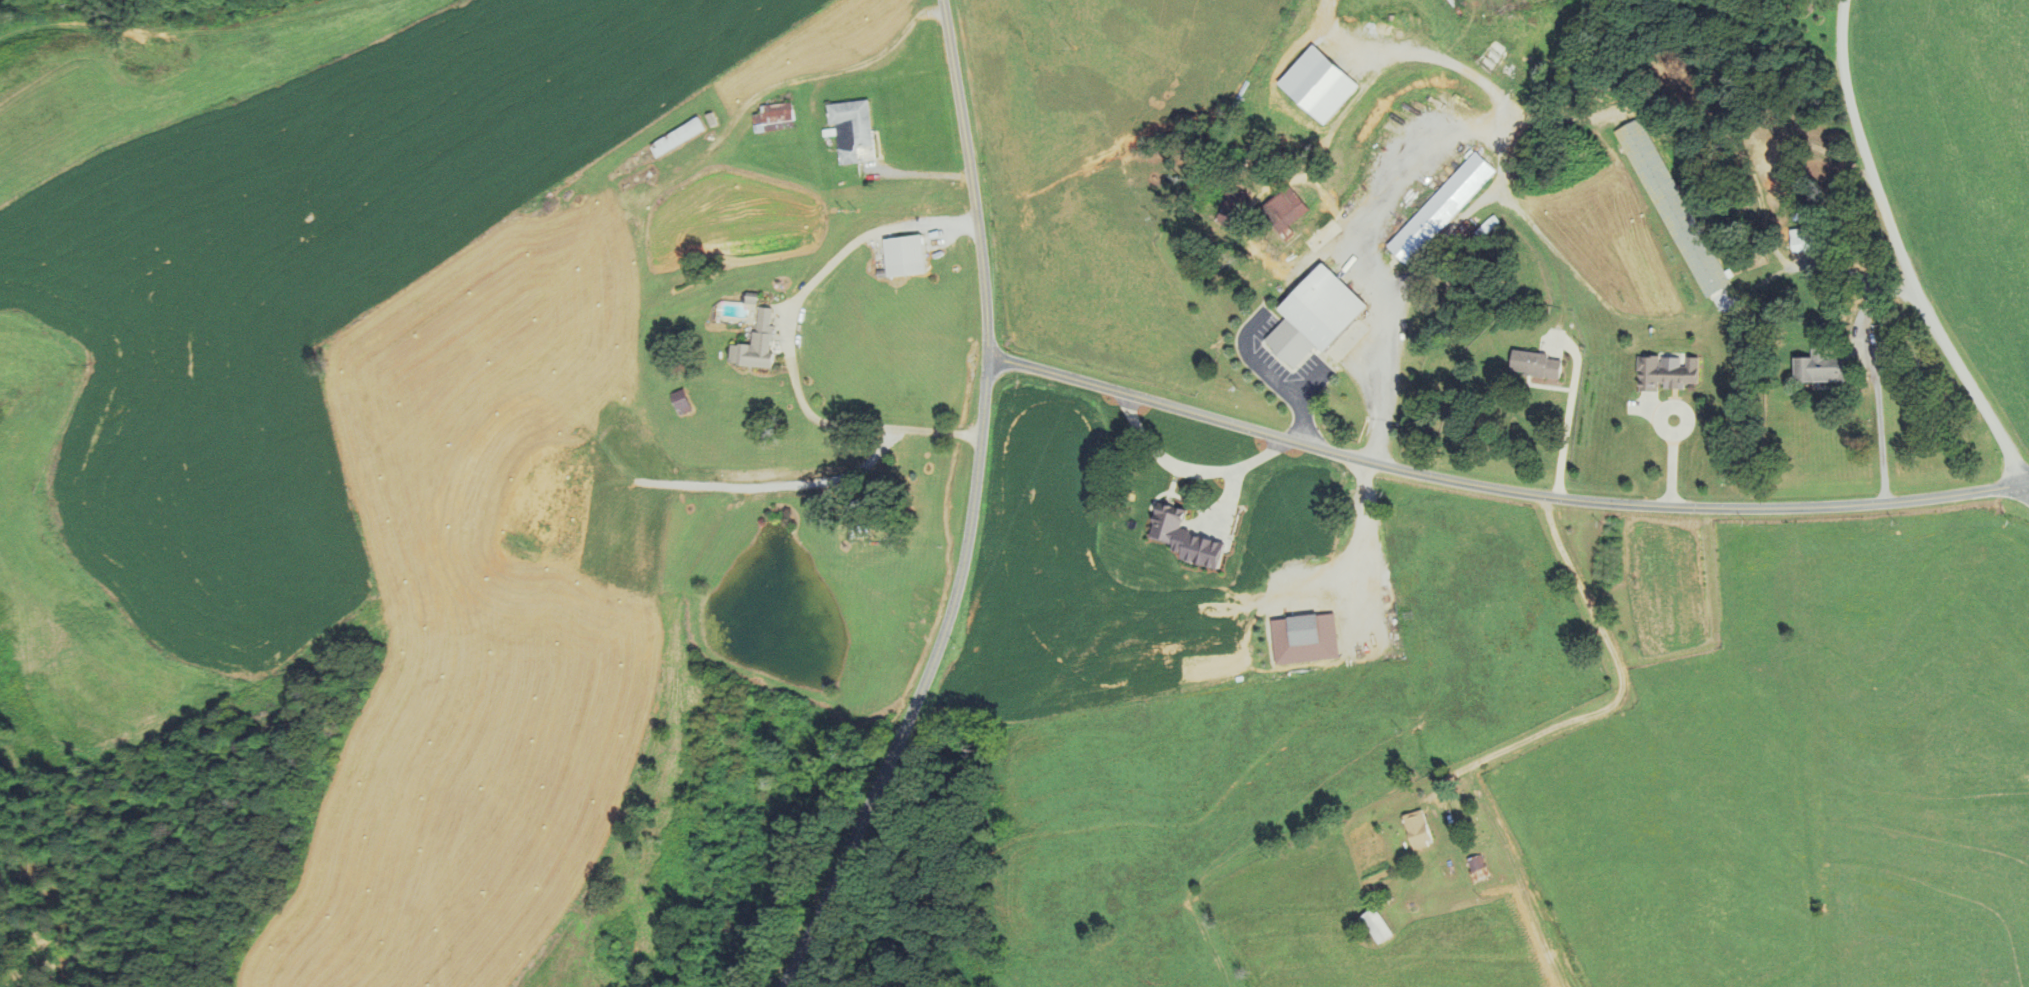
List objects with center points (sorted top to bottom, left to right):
road: (842, 65)
building: (776, 117)
building: (854, 127)
building: (679, 137)
road: (1411, 148)
building: (1674, 206)
building: (1441, 208)
building: (1230, 209)
building: (1282, 209)
building: (1803, 238)
road: (1897, 254)
building: (911, 255)
road: (786, 340)
building: (757, 341)
building: (1537, 364)
building: (1820, 367)
road: (1871, 373)
building: (1674, 374)
building: (685, 401)
road: (1568, 416)
road: (1188, 468)
road: (2028, 483)
road: (1501, 489)
road: (972, 509)
building: (1166, 522)
road: (1364, 524)
building: (1663, 623)
building: (1297, 629)
road: (1619, 682)
building: (804, 742)
building: (1412, 829)
building: (1473, 867)

